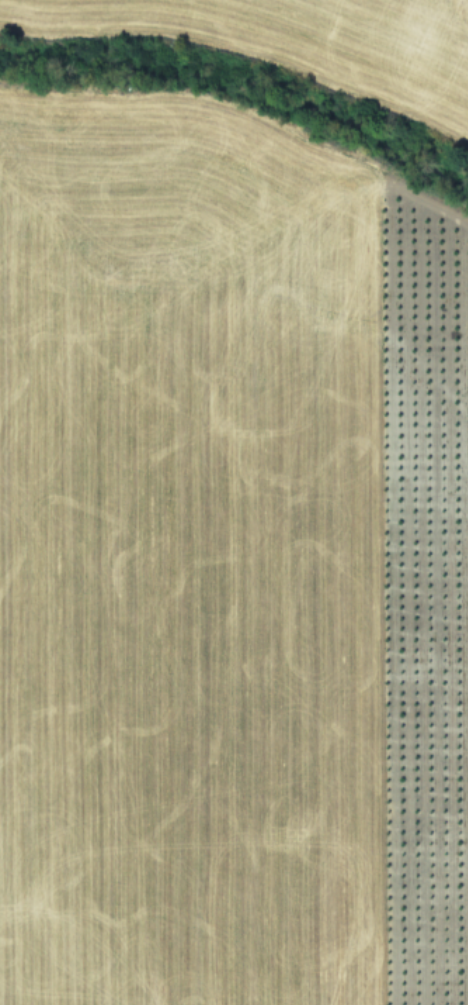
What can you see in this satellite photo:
crop: (234, 502)

